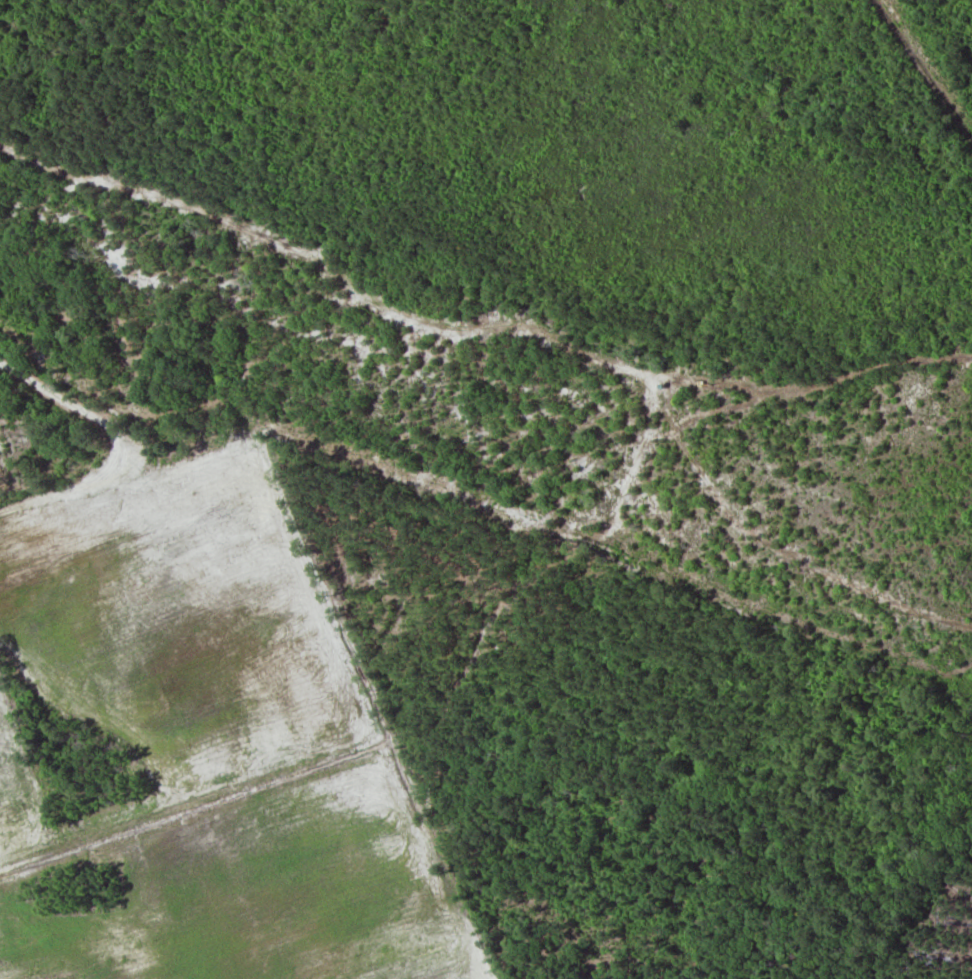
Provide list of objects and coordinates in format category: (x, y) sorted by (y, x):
road: (353, 735)

